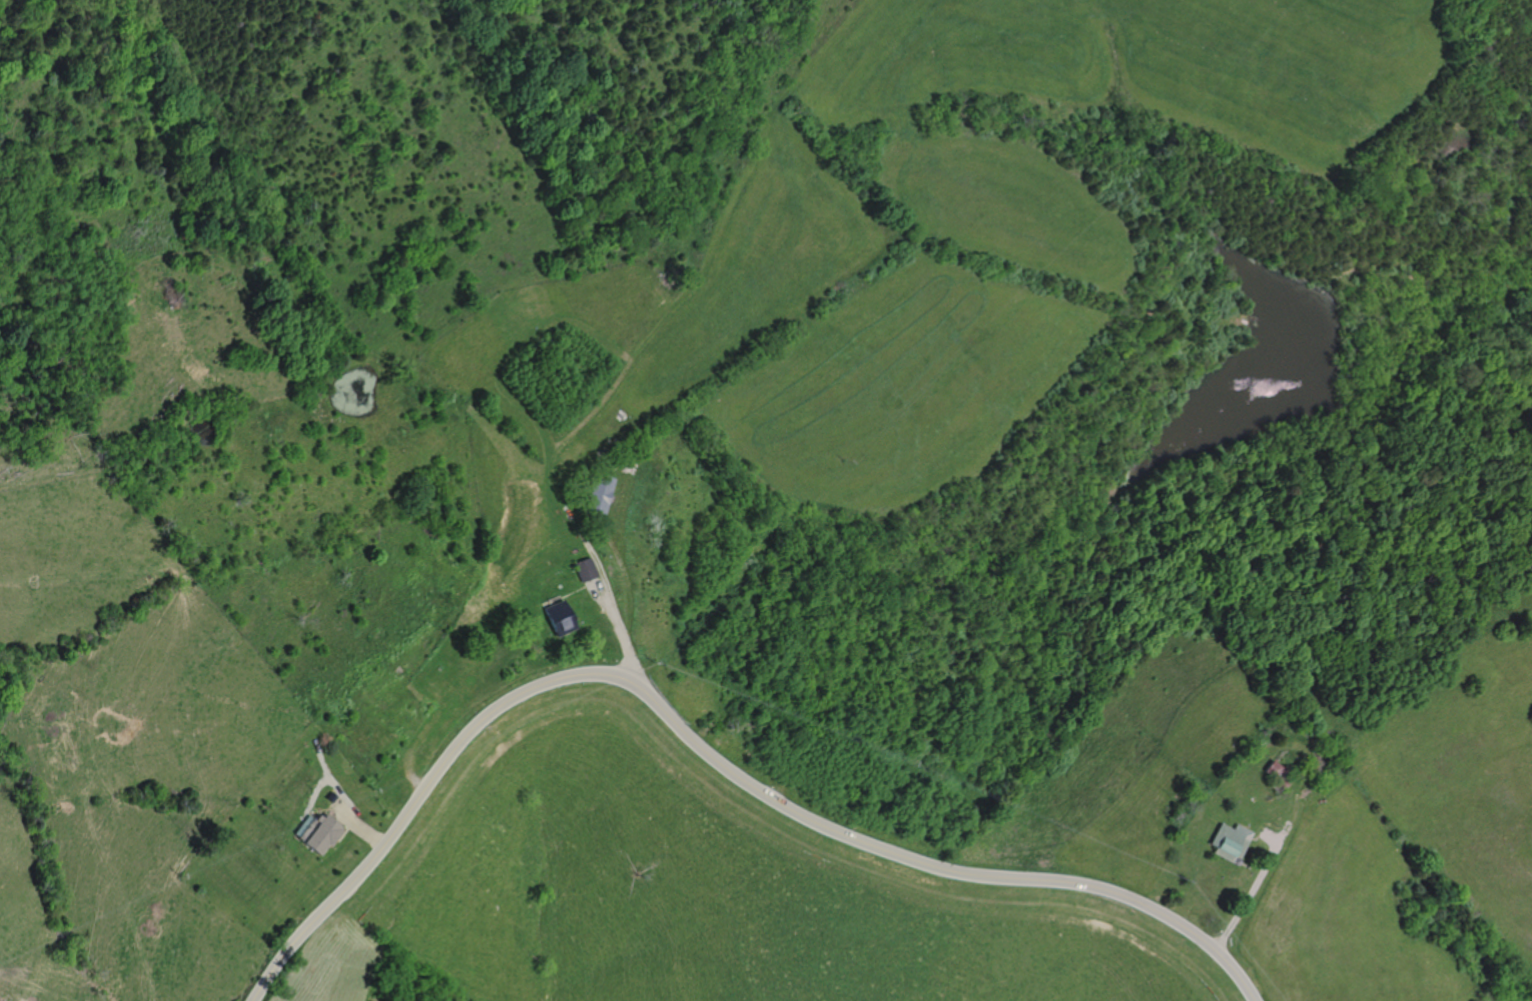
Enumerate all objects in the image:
building: (595, 494)
building: (580, 569)
road: (621, 586)
road: (594, 593)
road: (603, 593)
building: (555, 618)
road: (357, 746)
road: (700, 749)
road: (321, 764)
building: (1276, 773)
road: (333, 785)
building: (330, 796)
road: (354, 825)
building: (316, 832)
road: (342, 832)
road: (1268, 836)
building: (1229, 842)
road: (1250, 888)

